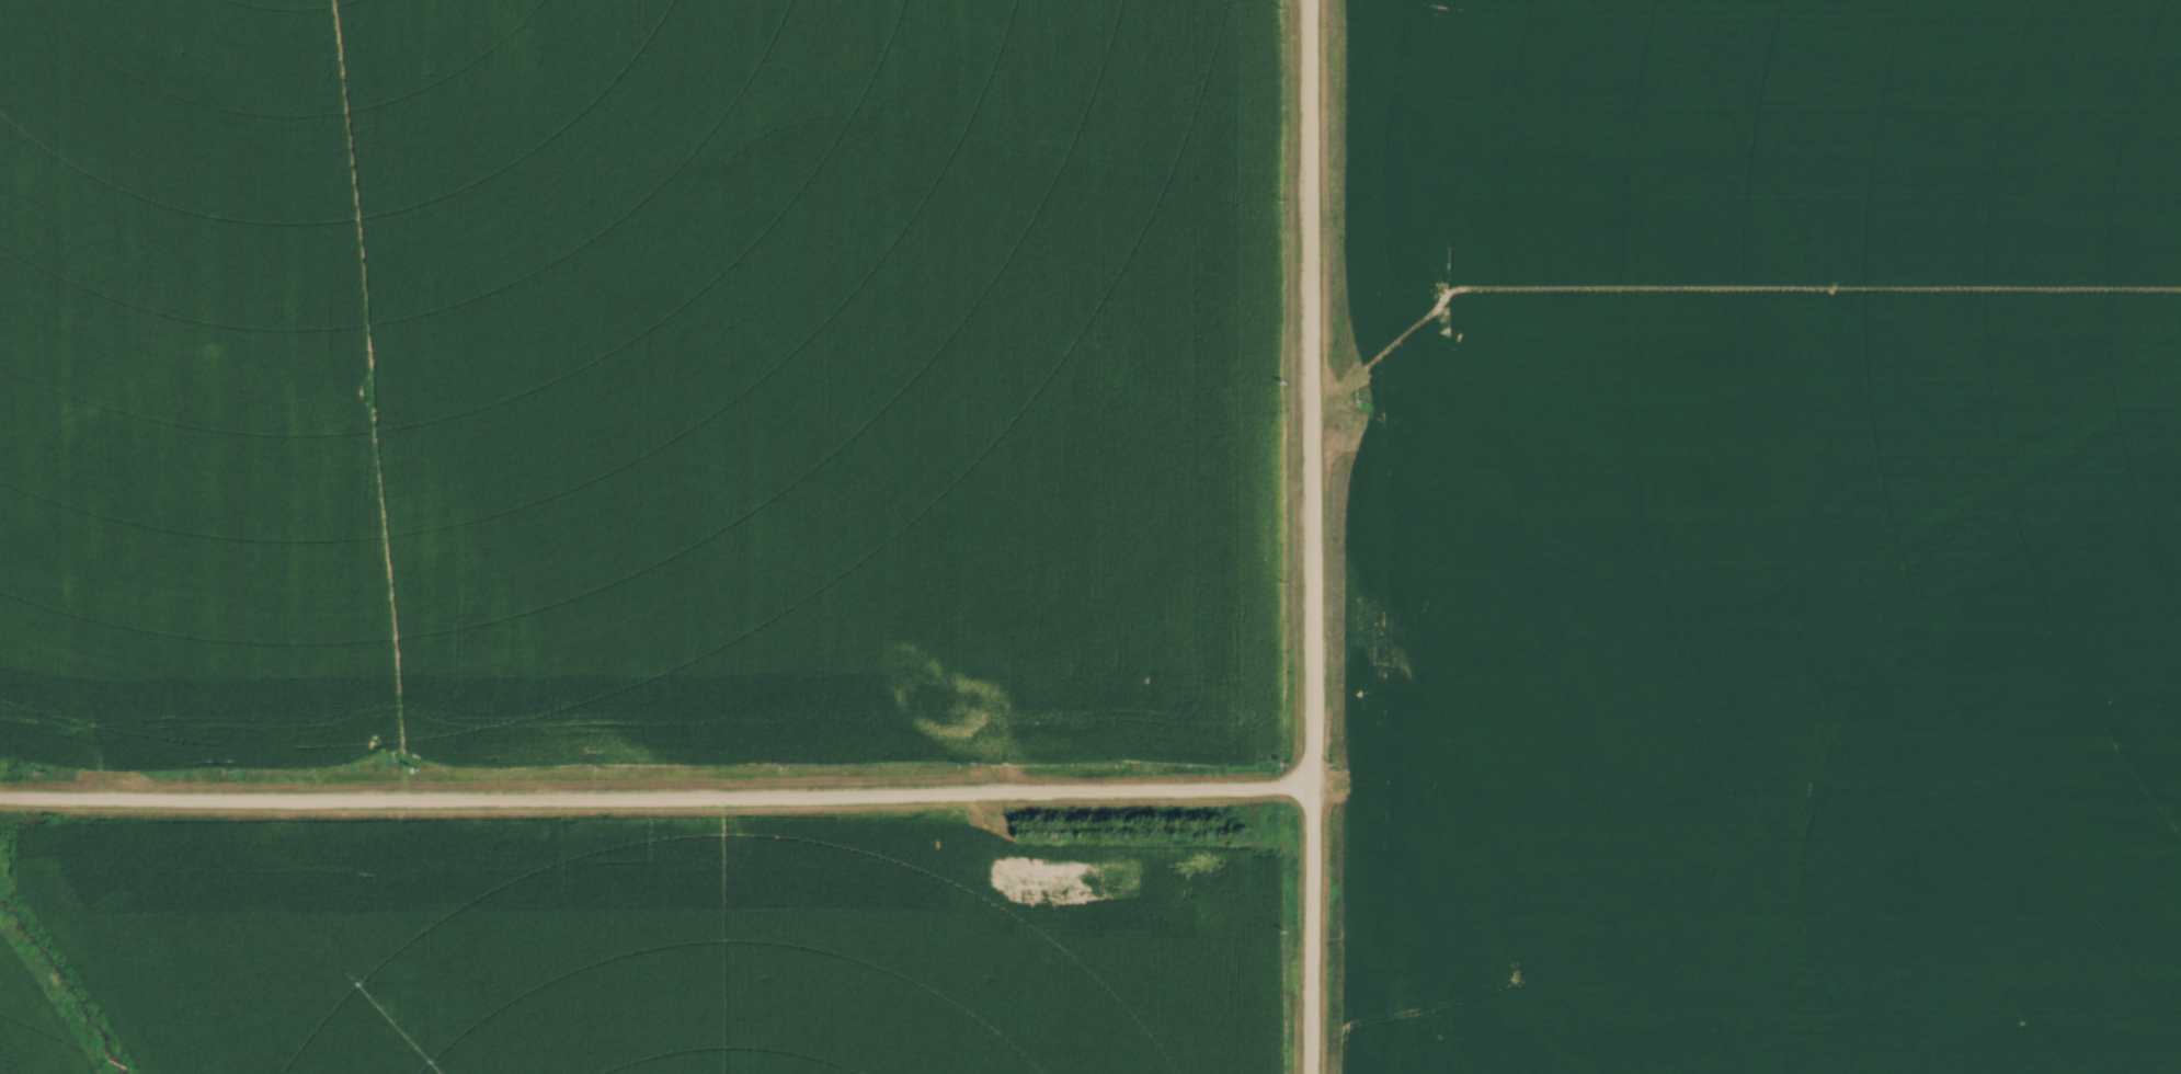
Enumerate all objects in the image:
road: (1312, 537)
road: (655, 798)

